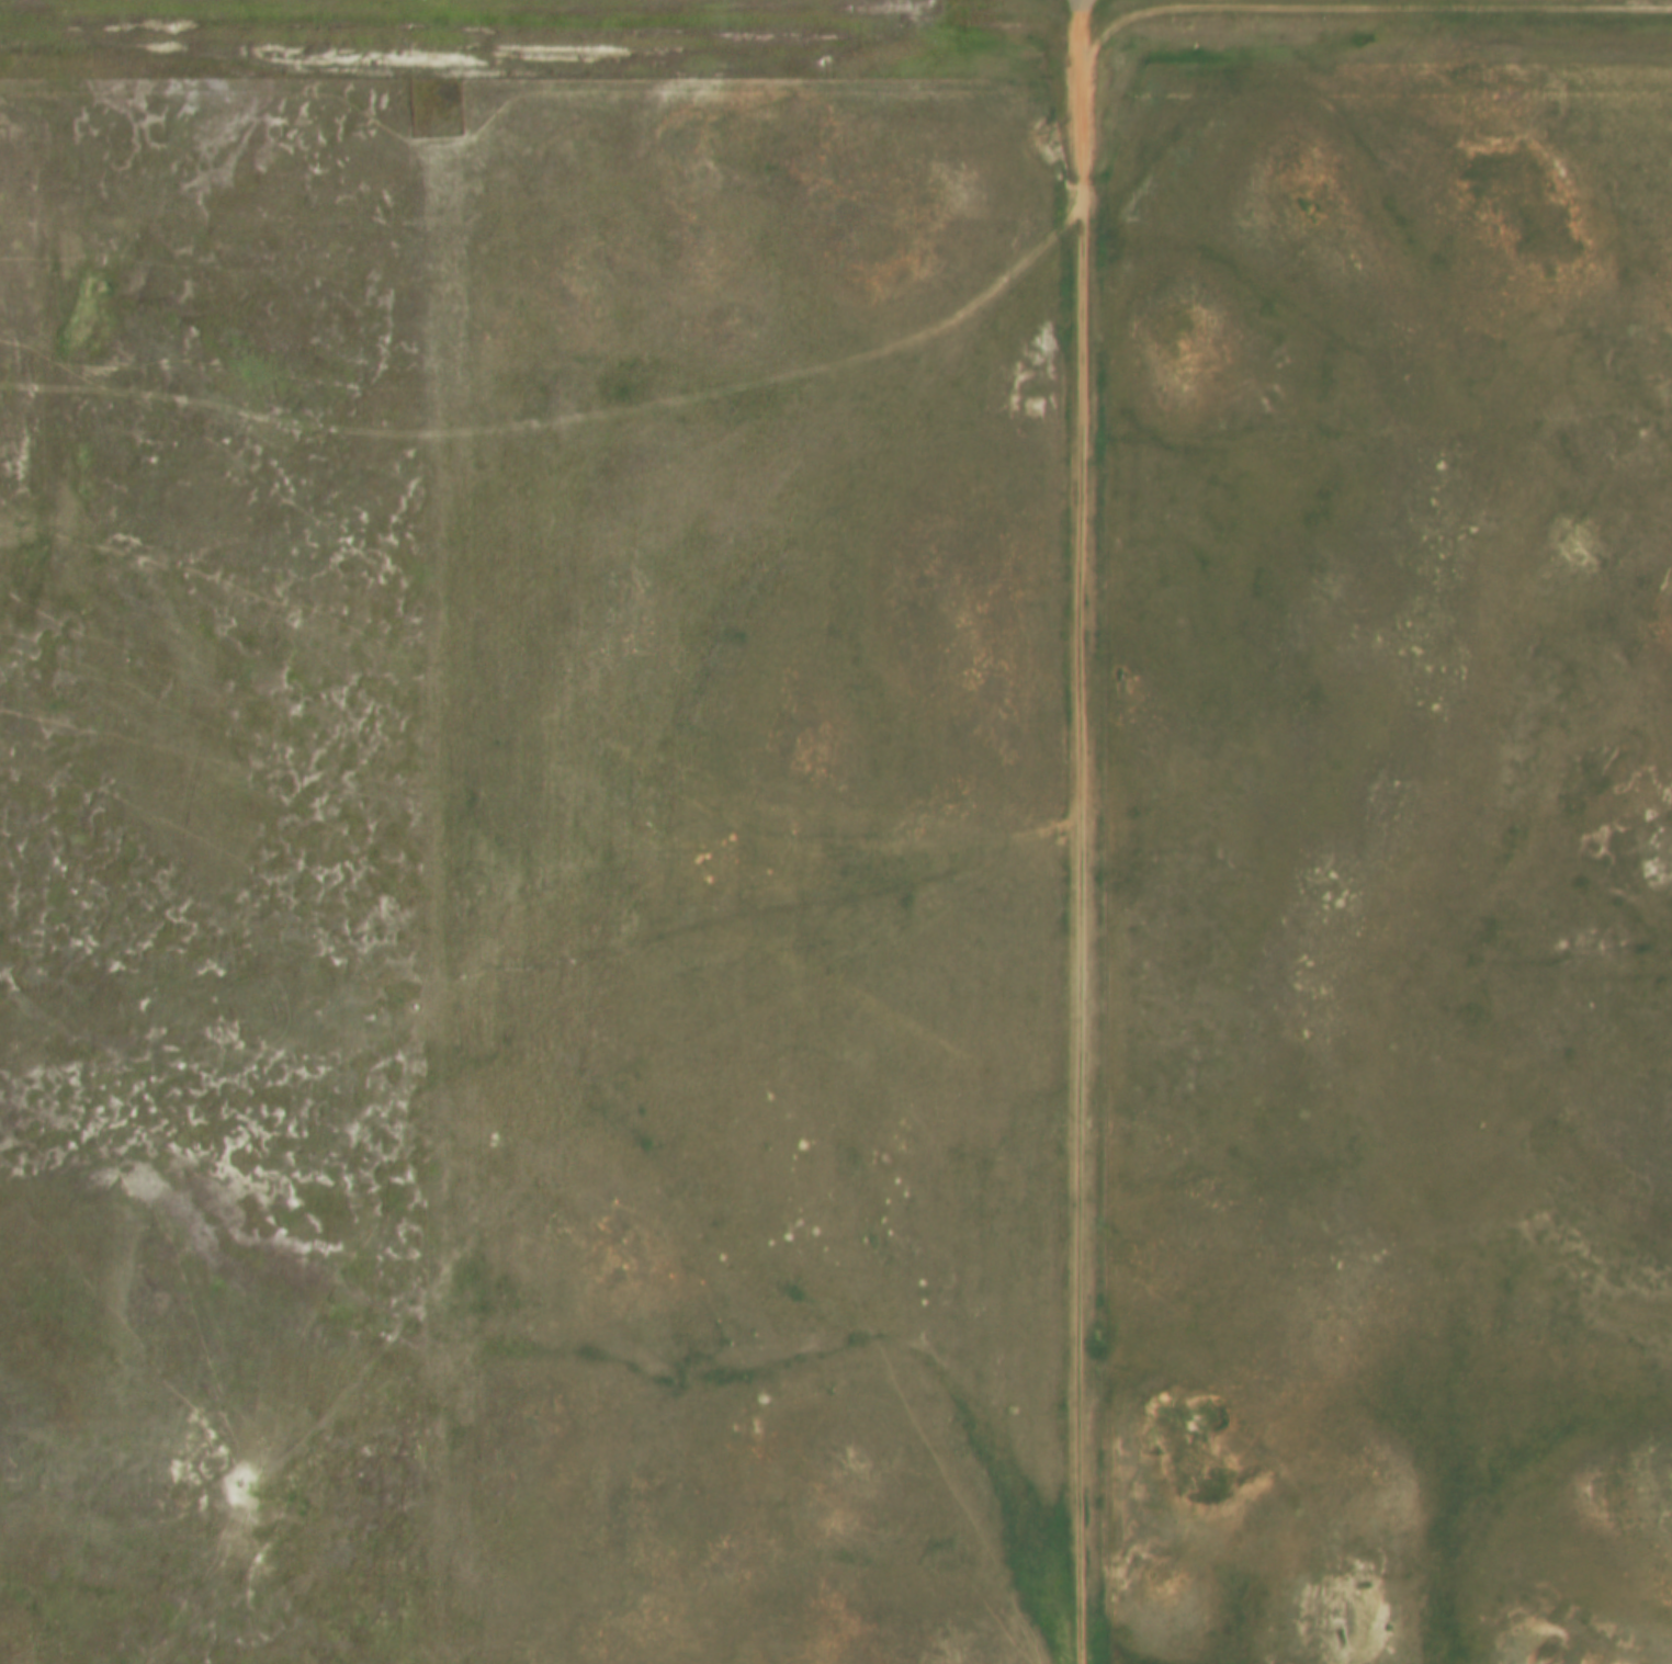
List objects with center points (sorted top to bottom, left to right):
road: (1083, 831)

